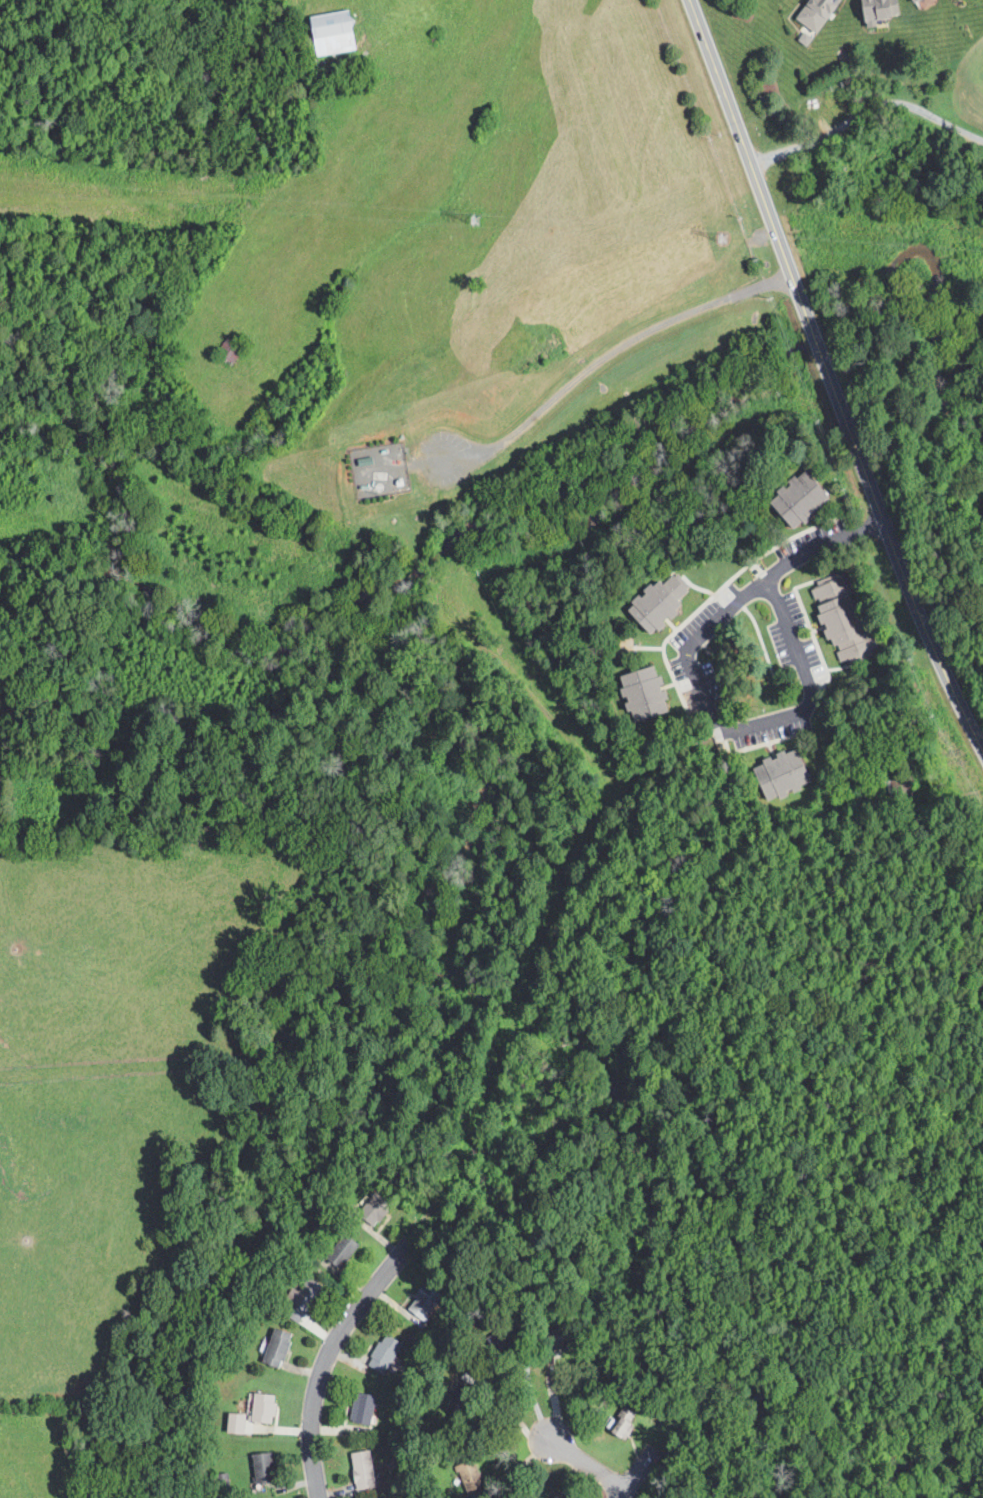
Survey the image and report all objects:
building: (908, 1)
building: (916, 1)
building: (874, 11)
building: (819, 14)
park: (966, 73)
road: (867, 123)
road: (752, 170)
power tower: (474, 219)
power tower: (729, 242)
park: (967, 311)
road: (597, 361)
building: (793, 499)
road: (893, 546)
building: (654, 601)
building: (839, 621)
road: (697, 683)
building: (643, 692)
building: (780, 773)
building: (371, 1211)
building: (338, 1250)
building: (303, 1297)
building: (274, 1348)
building: (381, 1353)
road: (325, 1359)
road: (527, 1380)
building: (259, 1408)
building: (358, 1408)
building: (232, 1423)
building: (616, 1426)
road: (587, 1464)
building: (359, 1469)
building: (259, 1471)
road: (636, 1475)
road: (647, 1488)
building: (553, 1497)

